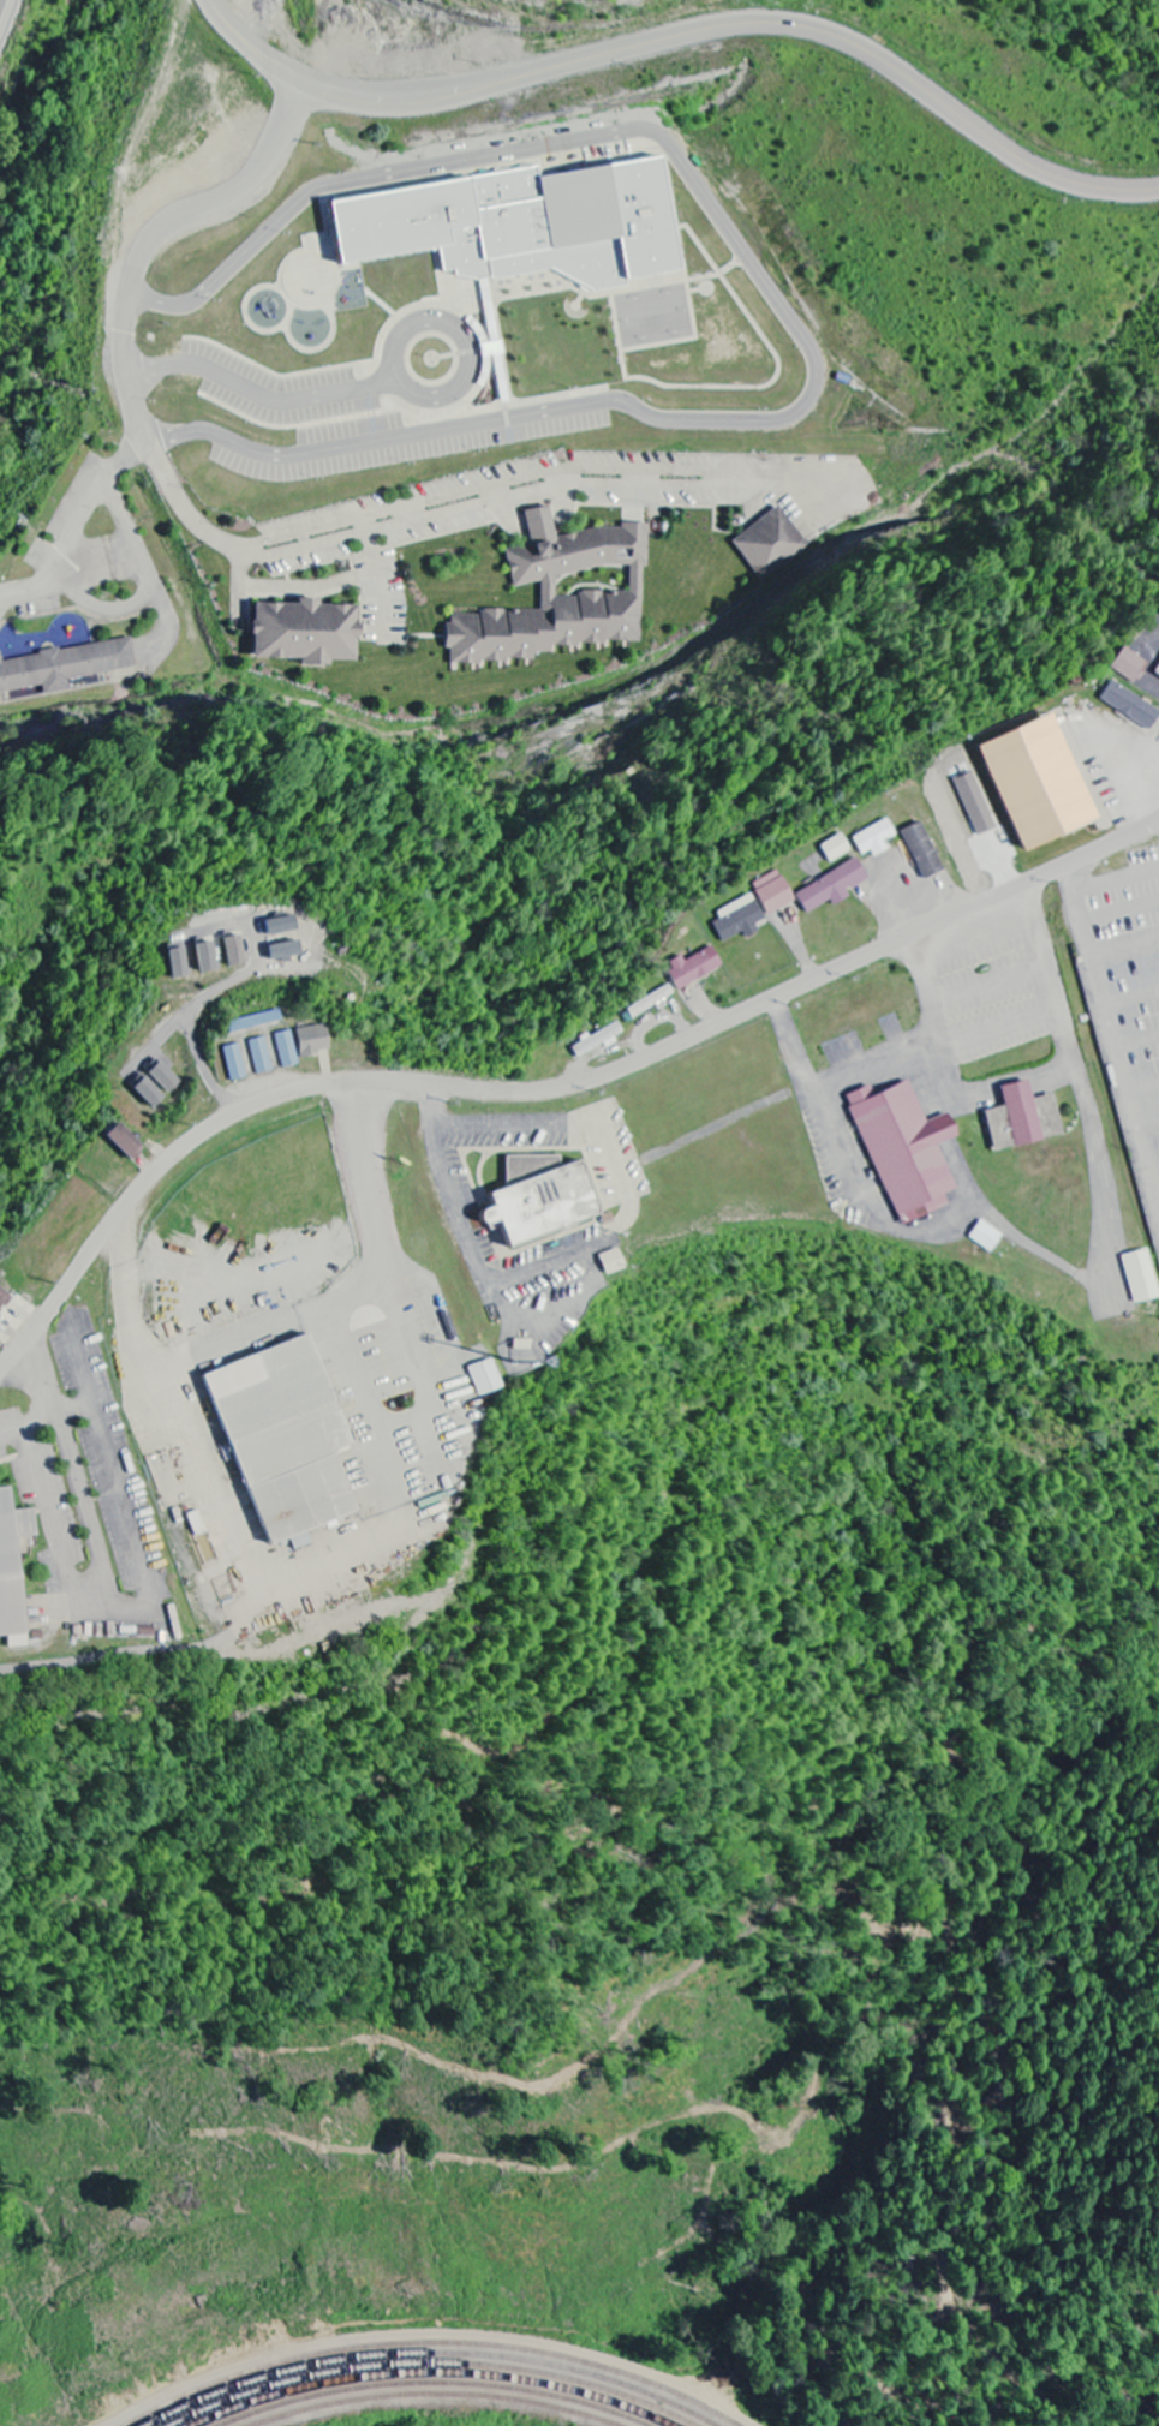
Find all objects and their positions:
road: (689, 34)
building: (526, 227)
building: (763, 538)
building: (562, 597)
building: (305, 633)
building: (1129, 665)
building: (65, 667)
building: (1158, 673)
building: (1131, 705)
building: (876, 838)
building: (836, 848)
building: (922, 850)
building: (850, 874)
building: (773, 892)
building: (739, 918)
building: (234, 950)
building: (207, 956)
building: (178, 962)
building: (694, 967)
building: (650, 1002)
building: (253, 1021)
building: (313, 1040)
building: (598, 1040)
building: (287, 1050)
building: (262, 1056)
building: (235, 1063)
building: (165, 1076)
building: (149, 1092)
road: (548, 1099)
building: (1015, 1118)
building: (124, 1141)
building: (906, 1152)
building: (540, 1197)
building: (613, 1262)
building: (1142, 1277)
building: (4, 1299)
building: (485, 1378)
building: (14, 1519)
building: (14, 1629)
railway: (435, 2384)
railway: (436, 2395)

